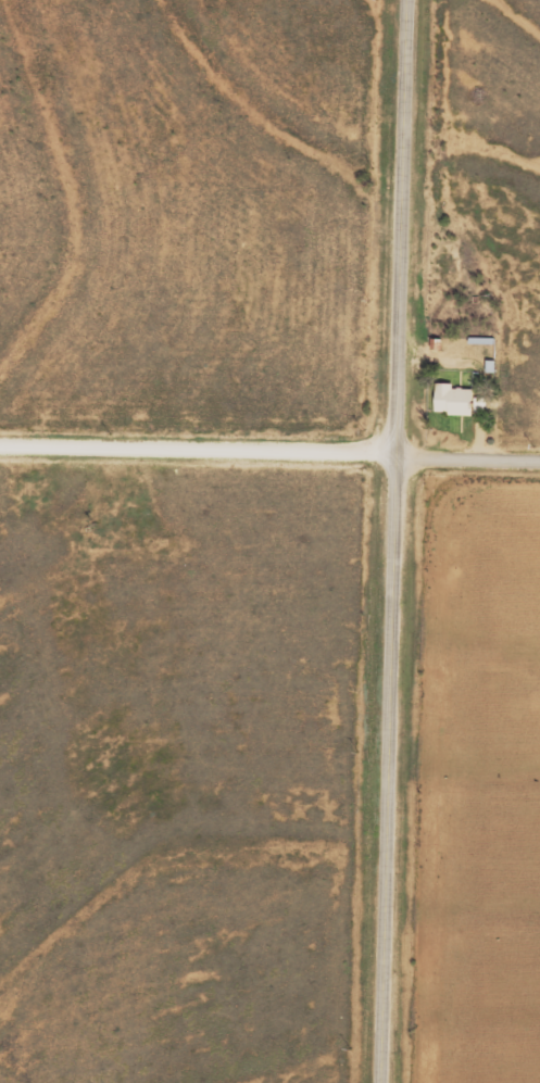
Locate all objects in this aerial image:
road: (269, 451)
road: (395, 541)

